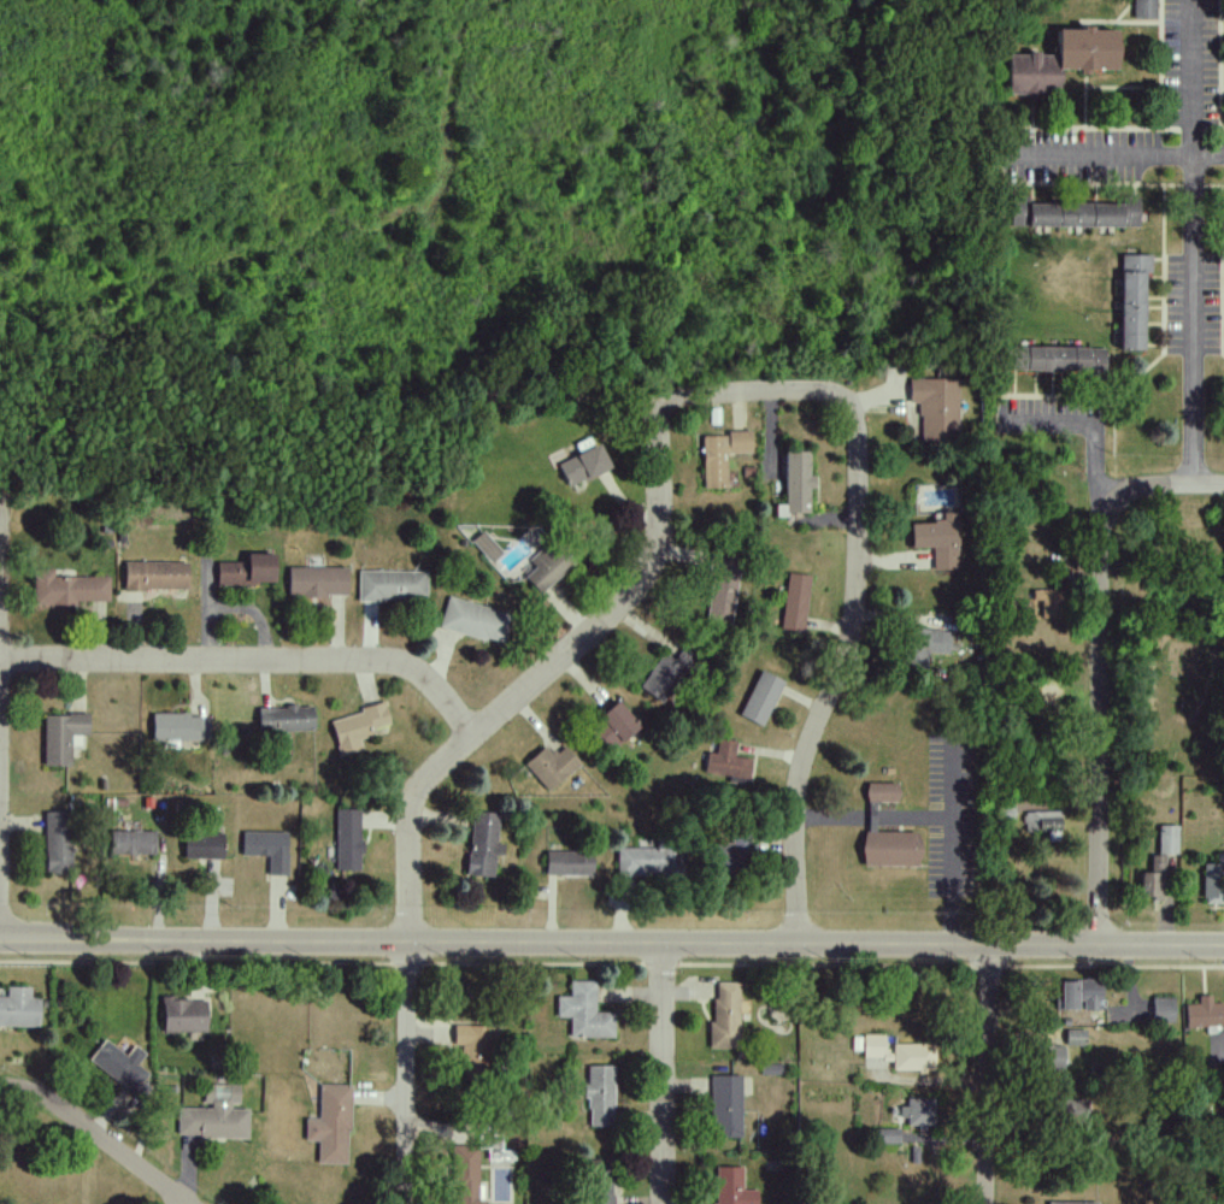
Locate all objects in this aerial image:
building: (1143, 10)
building: (1061, 60)
road: (1116, 158)
building: (1073, 213)
road: (1193, 243)
building: (1131, 300)
building: (1057, 360)
road: (753, 394)
building: (936, 408)
road: (1091, 425)
building: (720, 455)
building: (582, 465)
building: (796, 483)
road: (1208, 486)
building: (937, 541)
building: (546, 567)
building: (246, 569)
building: (153, 576)
building: (314, 583)
building: (390, 584)
building: (67, 589)
building: (722, 596)
building: (794, 602)
building: (1048, 604)
building: (473, 620)
building: (922, 647)
road: (0, 651)
road: (253, 659)
building: (665, 675)
road: (840, 675)
road: (1102, 683)
building: (760, 698)
building: (284, 719)
building: (175, 726)
building: (612, 726)
building: (355, 728)
building: (61, 737)
building: (726, 761)
road: (447, 766)
building: (552, 766)
building: (881, 792)
building: (1041, 825)
building: (348, 839)
building: (1166, 840)
building: (55, 842)
building: (130, 843)
building: (483, 844)
building: (201, 845)
road: (953, 845)
building: (266, 849)
building: (890, 849)
building: (730, 852)
building: (643, 861)
building: (567, 862)
building: (1153, 880)
building: (1213, 881)
road: (612, 945)
building: (1078, 996)
building: (18, 1008)
building: (1163, 1010)
building: (583, 1013)
building: (1204, 1014)
building: (183, 1015)
building: (725, 1015)
building: (1073, 1038)
building: (472, 1046)
building: (872, 1046)
building: (913, 1057)
building: (1052, 1058)
building: (119, 1066)
road: (661, 1074)
road: (987, 1075)
building: (599, 1094)
building: (725, 1105)
building: (1071, 1111)
building: (918, 1112)
building: (213, 1115)
building: (330, 1125)
road: (96, 1137)
building: (888, 1137)
building: (494, 1147)
building: (465, 1174)
building: (598, 1181)
building: (731, 1187)
road: (176, 1200)
building: (1073, 1203)

